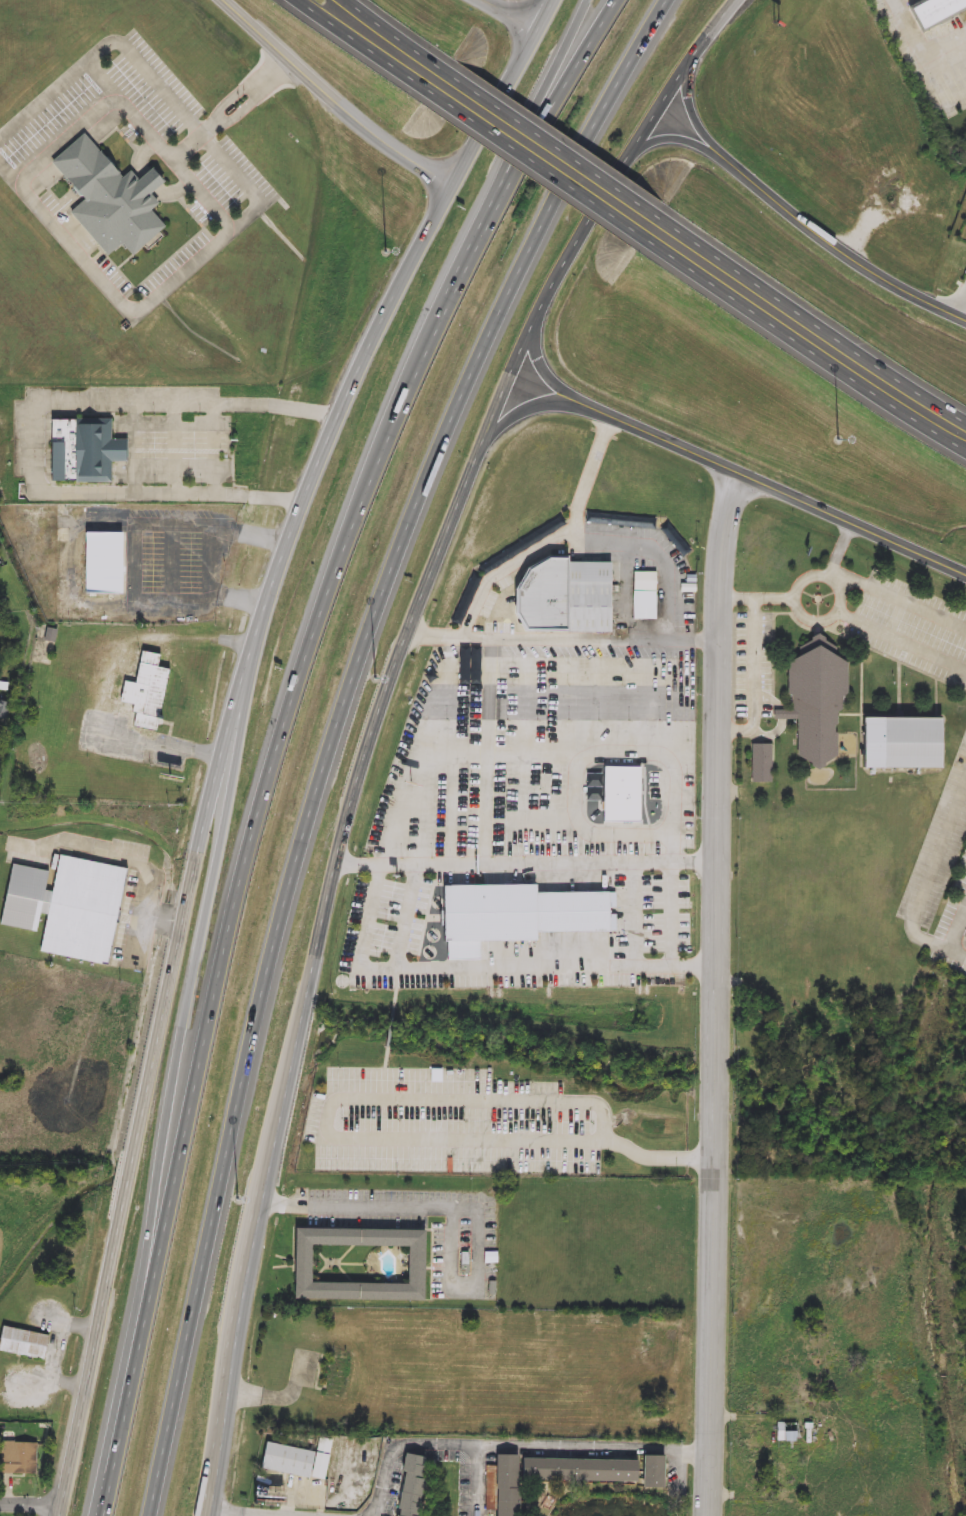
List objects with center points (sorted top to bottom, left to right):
building: (933, 11)
road: (510, 15)
road: (377, 26)
road: (347, 32)
road: (919, 49)
road: (557, 75)
road: (244, 85)
road: (504, 94)
road: (257, 97)
road: (333, 101)
road: (689, 114)
road: (64, 134)
road: (673, 137)
road: (192, 140)
road: (158, 142)
road: (528, 143)
parking lot: (215, 162)
road: (148, 180)
building: (109, 199)
road: (256, 200)
road: (836, 247)
street lamp: (387, 252)
road: (962, 283)
road: (960, 309)
road: (810, 333)
road: (545, 375)
road: (532, 409)
road: (31, 426)
street lamp: (840, 441)
road: (134, 446)
road: (213, 446)
road: (174, 447)
building: (80, 450)
road: (590, 476)
road: (781, 490)
road: (581, 539)
road: (74, 556)
road: (214, 559)
building: (104, 563)
road: (134, 564)
road: (172, 565)
road: (830, 574)
road: (818, 576)
road: (875, 589)
road: (327, 597)
building: (561, 597)
road: (756, 598)
building: (467, 600)
building: (645, 605)
road: (560, 638)
road: (902, 641)
building: (470, 666)
street lamp: (375, 677)
road: (757, 681)
road: (439, 691)
building: (146, 692)
building: (815, 700)
road: (374, 722)
road: (334, 731)
building: (901, 744)
road: (159, 747)
road: (496, 747)
building: (764, 761)
building: (621, 794)
road: (700, 795)
road: (577, 801)
road: (683, 801)
road: (201, 833)
road: (395, 841)
road: (673, 846)
road: (118, 855)
road: (525, 866)
road: (930, 878)
road: (212, 891)
building: (65, 907)
building: (515, 913)
road: (674, 917)
road: (139, 921)
parking lot: (953, 931)
road: (959, 932)
road: (959, 953)
road: (487, 971)
road: (717, 992)
road: (394, 996)
road: (390, 1025)
road: (385, 1055)
road: (356, 1139)
street lamp: (239, 1198)
road: (454, 1209)
building: (413, 1263)
building: (22, 1343)
building: (336, 1377)
road: (132, 1378)
building: (785, 1433)
road: (437, 1446)
road: (595, 1447)
building: (295, 1459)
building: (20, 1460)
building: (653, 1471)
building: (549, 1475)
building: (409, 1485)
road: (31, 1500)
road: (237, 1512)

